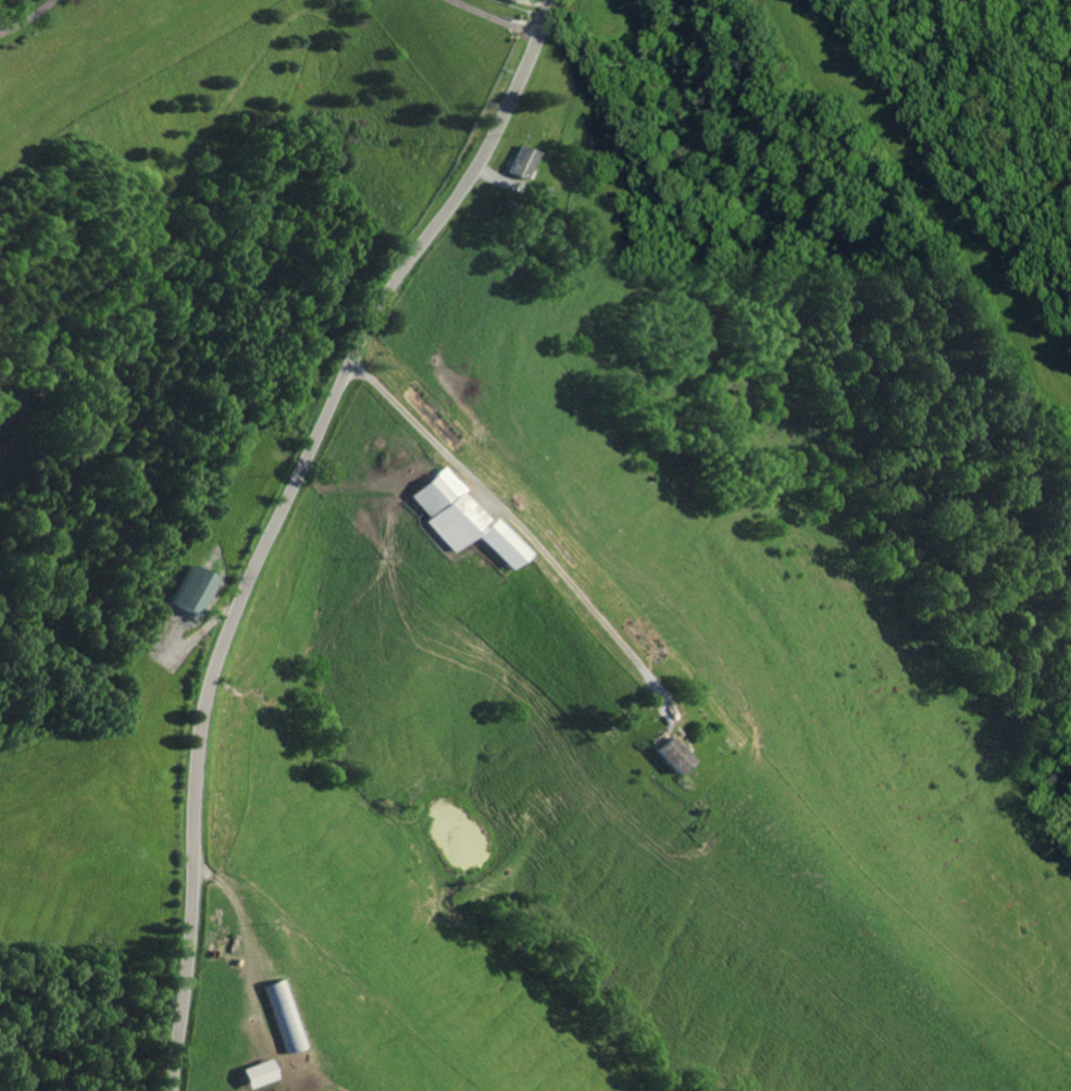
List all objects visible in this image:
building: (523, 160)
building: (466, 517)
road: (261, 519)
building: (195, 588)
building: (674, 754)
building: (256, 1073)

